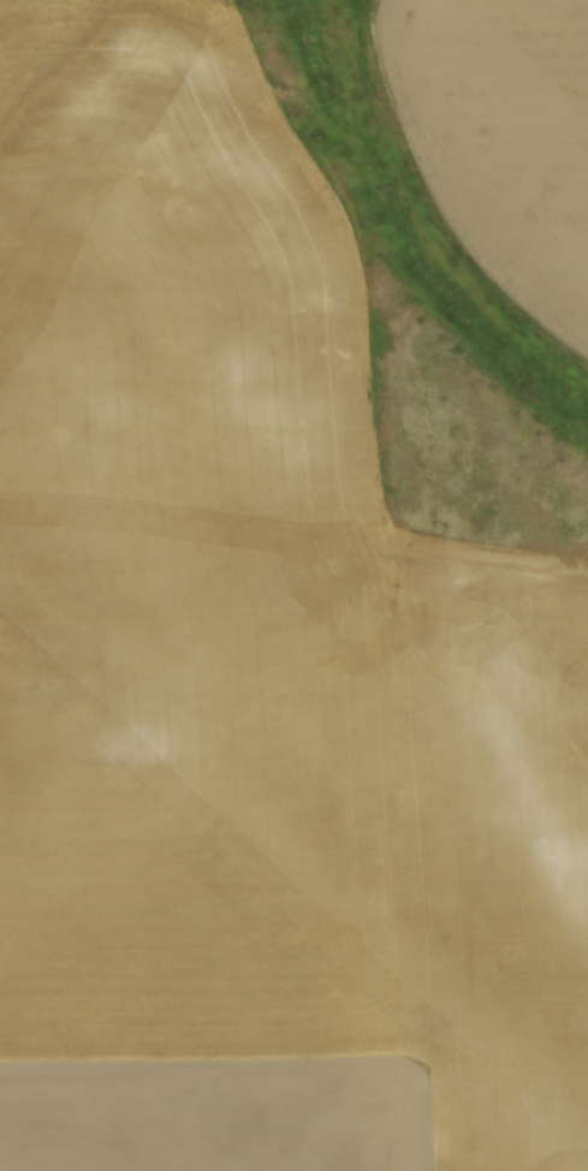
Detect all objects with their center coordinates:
crop: (500, 139)
crop: (253, 667)

